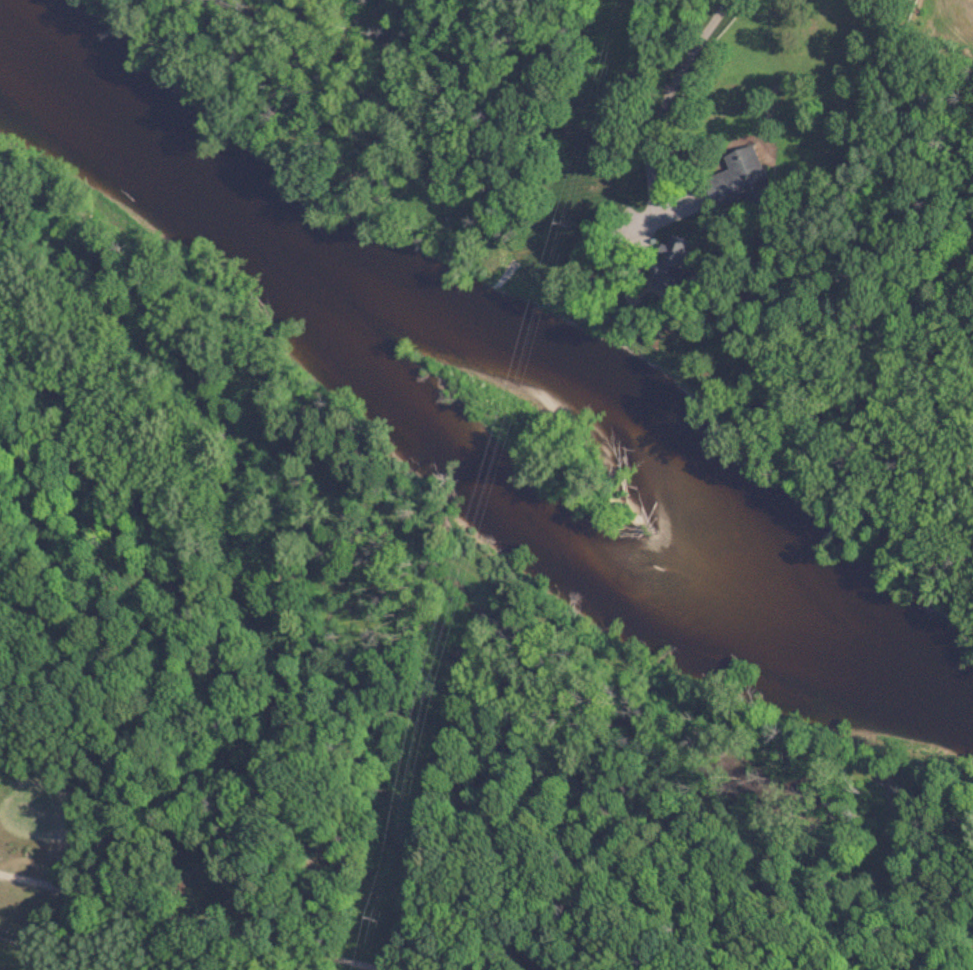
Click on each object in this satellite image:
road: (661, 108)
river: (497, 339)
road: (220, 903)

